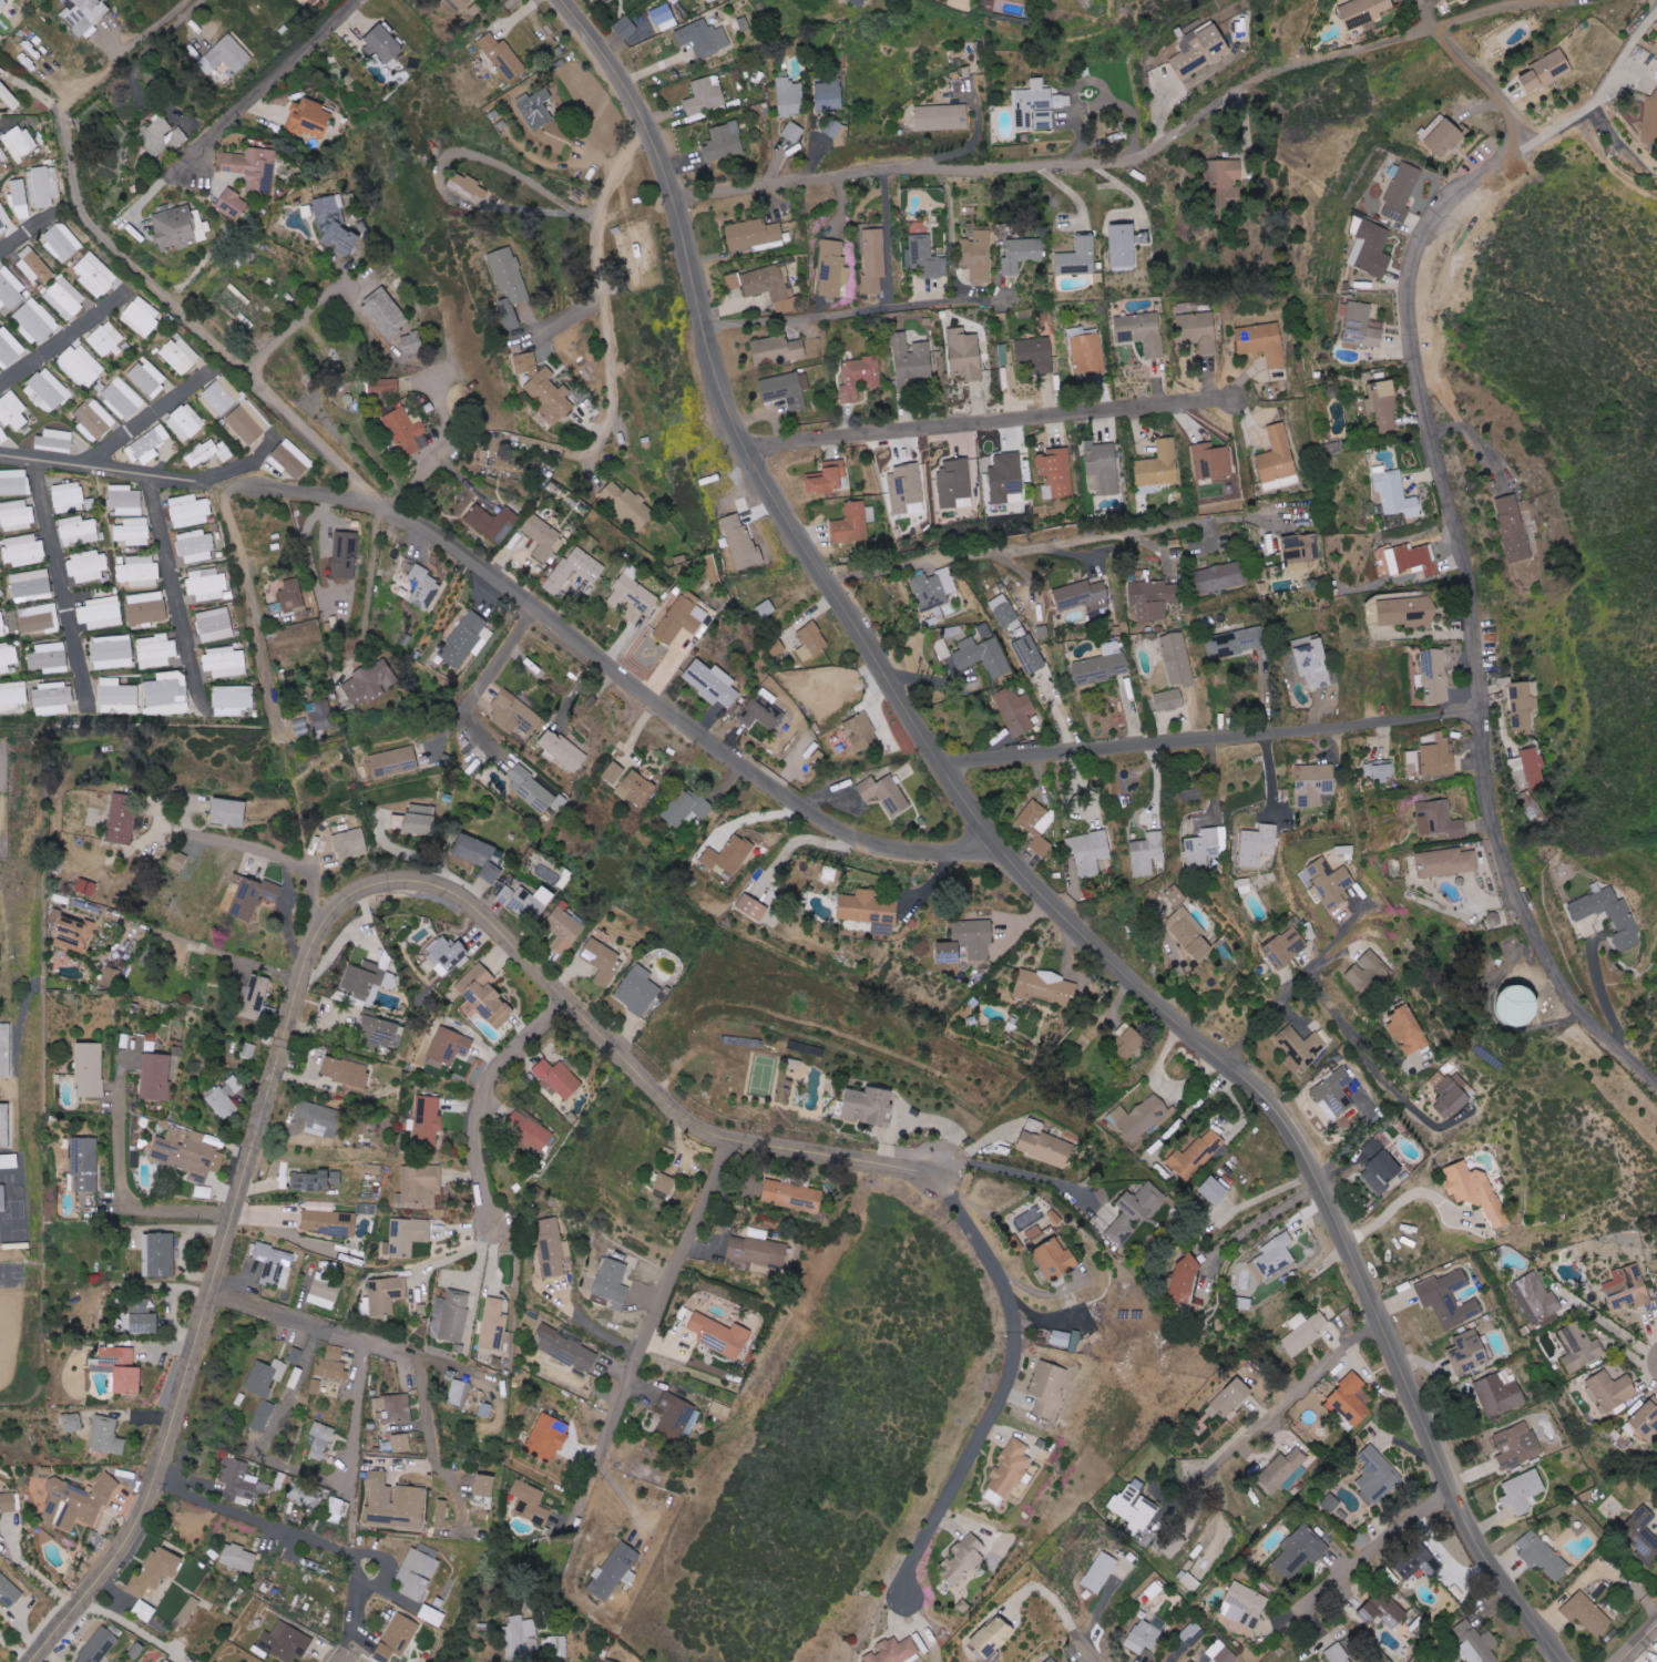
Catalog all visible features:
building: (858, 2)
building: (3, 3)
building: (459, 3)
building: (1364, 11)
building: (85, 13)
building: (663, 17)
road: (1641, 25)
road: (170, 27)
building: (624, 28)
building: (704, 38)
building: (383, 44)
building: (1200, 50)
building: (225, 55)
building: (503, 57)
building: (1547, 70)
road: (272, 71)
building: (221, 72)
road: (1484, 83)
building: (706, 95)
building: (789, 95)
building: (829, 95)
building: (9, 96)
building: (1037, 105)
building: (535, 109)
building: (942, 116)
building: (311, 117)
building: (1650, 126)
building: (794, 132)
building: (164, 136)
building: (1448, 137)
building: (18, 142)
building: (724, 142)
road: (1135, 157)
building: (2, 161)
building: (257, 167)
road: (439, 183)
building: (43, 185)
building: (468, 187)
building: (1402, 192)
building: (20, 198)
building: (236, 203)
building: (3, 220)
building: (338, 224)
road: (30, 227)
building: (181, 227)
building: (754, 234)
road: (887, 236)
building: (62, 242)
building: (1123, 245)
building: (1370, 247)
building: (1022, 254)
building: (924, 257)
building: (978, 257)
building: (1078, 257)
building: (874, 259)
building: (35, 267)
building: (831, 270)
building: (94, 274)
building: (734, 280)
building: (509, 285)
building: (771, 286)
road: (601, 287)
building: (9, 288)
road: (167, 296)
building: (64, 297)
building: (234, 299)
road: (845, 310)
building: (389, 315)
building: (142, 316)
building: (35, 321)
road: (290, 321)
building: (1360, 325)
building: (1199, 331)
building: (1142, 332)
road: (64, 337)
building: (105, 338)
building: (1262, 342)
building: (413, 345)
building: (9, 347)
building: (778, 349)
building: (965, 353)
building: (1036, 353)
building: (1087, 353)
building: (180, 355)
building: (911, 361)
building: (81, 365)
building: (859, 377)
building: (147, 378)
building: (385, 386)
building: (544, 388)
building: (787, 389)
building: (47, 391)
building: (222, 396)
building: (121, 399)
building: (1383, 404)
road: (442, 406)
building: (13, 411)
road: (150, 416)
building: (93, 420)
building: (185, 422)
building: (248, 422)
road: (984, 425)
building: (407, 432)
building: (2, 435)
building: (54, 441)
road: (1474, 442)
building: (146, 445)
building: (207, 453)
building: (1277, 455)
building: (290, 459)
building: (1211, 461)
road: (102, 464)
building: (1103, 466)
building: (1056, 473)
building: (1005, 476)
building: (828, 478)
road: (415, 479)
building: (14, 482)
building: (954, 484)
road: (246, 485)
building: (906, 486)
building: (1395, 494)
building: (68, 497)
building: (124, 501)
building: (634, 507)
building: (188, 511)
building: (16, 516)
building: (493, 523)
building: (853, 523)
building: (1513, 529)
building: (78, 531)
building: (133, 532)
road: (1455, 536)
building: (543, 537)
building: (740, 541)
building: (196, 546)
road: (1036, 551)
building: (22, 552)
building: (1298, 553)
building: (345, 554)
building: (1413, 561)
building: (1383, 563)
building: (88, 566)
building: (574, 570)
building: (139, 571)
building: (1223, 576)
road: (62, 584)
building: (206, 584)
building: (31, 585)
road: (369, 586)
building: (425, 587)
building: (933, 588)
road: (177, 593)
building: (635, 593)
building: (291, 596)
building: (1083, 597)
building: (1153, 598)
building: (146, 607)
building: (766, 608)
road: (249, 611)
building: (1004, 611)
building: (1409, 612)
building: (101, 613)
building: (682, 618)
building: (41, 620)
building: (1, 624)
building: (215, 625)
building: (984, 630)
building: (467, 639)
building: (811, 642)
building: (1235, 644)
building: (777, 647)
building: (942, 648)
building: (155, 650)
building: (113, 652)
building: (1030, 655)
building: (7, 656)
building: (982, 656)
building: (49, 658)
building: (1177, 660)
building: (225, 661)
building: (1313, 661)
building: (1102, 665)
building: (1438, 676)
road: (485, 678)
road: (633, 679)
building: (369, 683)
building: (713, 683)
building: (166, 694)
building: (117, 697)
building: (52, 699)
building: (233, 699)
building: (1169, 700)
building: (1522, 702)
building: (763, 710)
building: (1016, 710)
building: (514, 714)
building: (321, 716)
building: (301, 727)
building: (861, 732)
road: (1210, 740)
building: (562, 750)
building: (1442, 756)
building: (1418, 757)
building: (393, 761)
building: (1536, 768)
building: (1380, 770)
building: (613, 772)
building: (1313, 784)
building: (636, 788)
building: (530, 789)
building: (886, 793)
building: (686, 809)
building: (229, 812)
building: (123, 819)
building: (417, 820)
building: (1446, 821)
building: (1036, 825)
building: (350, 844)
building: (1258, 844)
road: (248, 847)
building: (1203, 847)
building: (1090, 853)
building: (1147, 854)
building: (728, 855)
building: (480, 856)
building: (178, 861)
building: (1455, 863)
road: (1006, 868)
building: (1309, 879)
building: (1332, 883)
building: (86, 888)
road: (311, 896)
building: (1175, 896)
building: (253, 897)
building: (526, 901)
building: (753, 907)
building: (869, 910)
building: (1615, 916)
building: (0, 919)
building: (564, 930)
building: (74, 933)
building: (1189, 934)
building: (974, 937)
building: (1286, 947)
road: (218, 950)
building: (950, 952)
building: (0, 954)
road: (306, 956)
building: (447, 956)
building: (603, 962)
building: (0, 973)
building: (1368, 973)
building: (110, 976)
building: (368, 982)
building: (1046, 988)
building: (638, 989)
building: (485, 995)
road: (1608, 996)
building: (256, 997)
road: (1313, 998)
building: (1525, 1008)
storage tank: (1525, 1008)
building: (1409, 1032)
building: (382, 1033)
building: (1129, 1044)
building: (452, 1045)
building: (1300, 1047)
building: (247, 1049)
building: (4, 1050)
road: (1358, 1057)
building: (90, 1069)
building: (347, 1074)
building: (156, 1077)
building: (559, 1077)
building: (1334, 1091)
building: (1450, 1094)
building: (225, 1097)
road: (481, 1097)
building: (870, 1105)
building: (1138, 1118)
building: (319, 1119)
building: (428, 1119)
building: (4, 1126)
building: (531, 1130)
building: (1045, 1147)
road: (127, 1148)
building: (1195, 1152)
building: (187, 1153)
building: (1381, 1159)
building: (9, 1161)
building: (85, 1163)
building: (375, 1169)
road: (1013, 1170)
building: (315, 1179)
building: (1374, 1181)
building: (665, 1182)
building: (421, 1184)
building: (1215, 1190)
building: (1476, 1190)
building: (203, 1192)
road: (1403, 1194)
road: (1262, 1196)
building: (791, 1197)
building: (366, 1208)
building: (1135, 1212)
building: (1056, 1217)
road: (1259, 1221)
building: (1036, 1232)
building: (408, 1234)
building: (552, 1246)
building: (160, 1254)
building: (1276, 1255)
building: (1058, 1258)
building: (274, 1264)
building: (1184, 1279)
building: (612, 1284)
building: (1628, 1287)
building: (324, 1291)
building: (386, 1293)
building: (1449, 1299)
building: (1536, 1299)
building: (452, 1314)
building: (143, 1317)
building: (493, 1323)
road: (586, 1323)
road: (651, 1323)
road: (1607, 1323)
building: (1305, 1332)
building: (720, 1335)
building: (1065, 1338)
road: (366, 1341)
building: (1579, 1346)
building: (565, 1350)
building: (1470, 1351)
building: (295, 1355)
building: (333, 1364)
road: (460, 1365)
building: (120, 1367)
building: (265, 1376)
building: (295, 1377)
road: (1005, 1385)
building: (315, 1386)
building: (1047, 1386)
building: (1612, 1389)
building: (459, 1393)
building: (1499, 1394)
building: (1231, 1397)
building: (1351, 1401)
building: (393, 1405)
building: (720, 1410)
building: (263, 1415)
road: (1268, 1415)
building: (675, 1416)
building: (1646, 1419)
building: (71, 1423)
building: (106, 1435)
building: (548, 1437)
building: (320, 1439)
building: (401, 1443)
building: (1517, 1445)
road: (300, 1468)
building: (1282, 1469)
building: (1009, 1470)
building: (238, 1478)
building: (1379, 1479)
building: (484, 1488)
building: (1523, 1491)
building: (303, 1495)
building: (78, 1501)
building: (7, 1502)
building: (395, 1502)
building: (531, 1502)
building: (1330, 1502)
building: (337, 1510)
building: (1135, 1511)
building: (441, 1512)
road: (255, 1517)
building: (1578, 1524)
building: (1644, 1533)
building: (1173, 1546)
road: (1375, 1549)
building: (1300, 1550)
building: (1543, 1553)
building: (239, 1557)
building: (964, 1561)
building: (1421, 1563)
building: (1098, 1570)
building: (155, 1571)
building: (615, 1571)
building: (418, 1573)
building: (1188, 1580)
building: (9, 1591)
building: (1244, 1605)
building: (144, 1610)
building: (1382, 1610)
building: (1586, 1613)
building: (431, 1615)
building: (1155, 1621)
road: (133, 1625)
building: (1191, 1633)
building: (1143, 1637)
building: (397, 1638)
building: (521, 1638)
building: (992, 1638)
building: (286, 1642)
building: (1476, 1642)
road: (1638, 1642)
building: (99, 1645)
building: (555, 1649)
building: (137, 1650)
building: (896, 1651)
building: (1221, 1652)
building: (1338, 1653)
road: (1091, 1656)
road: (342, 1659)
building: (164, 1660)
building: (610, 1660)
building: (1052, 1660)
building: (1191, 1661)

